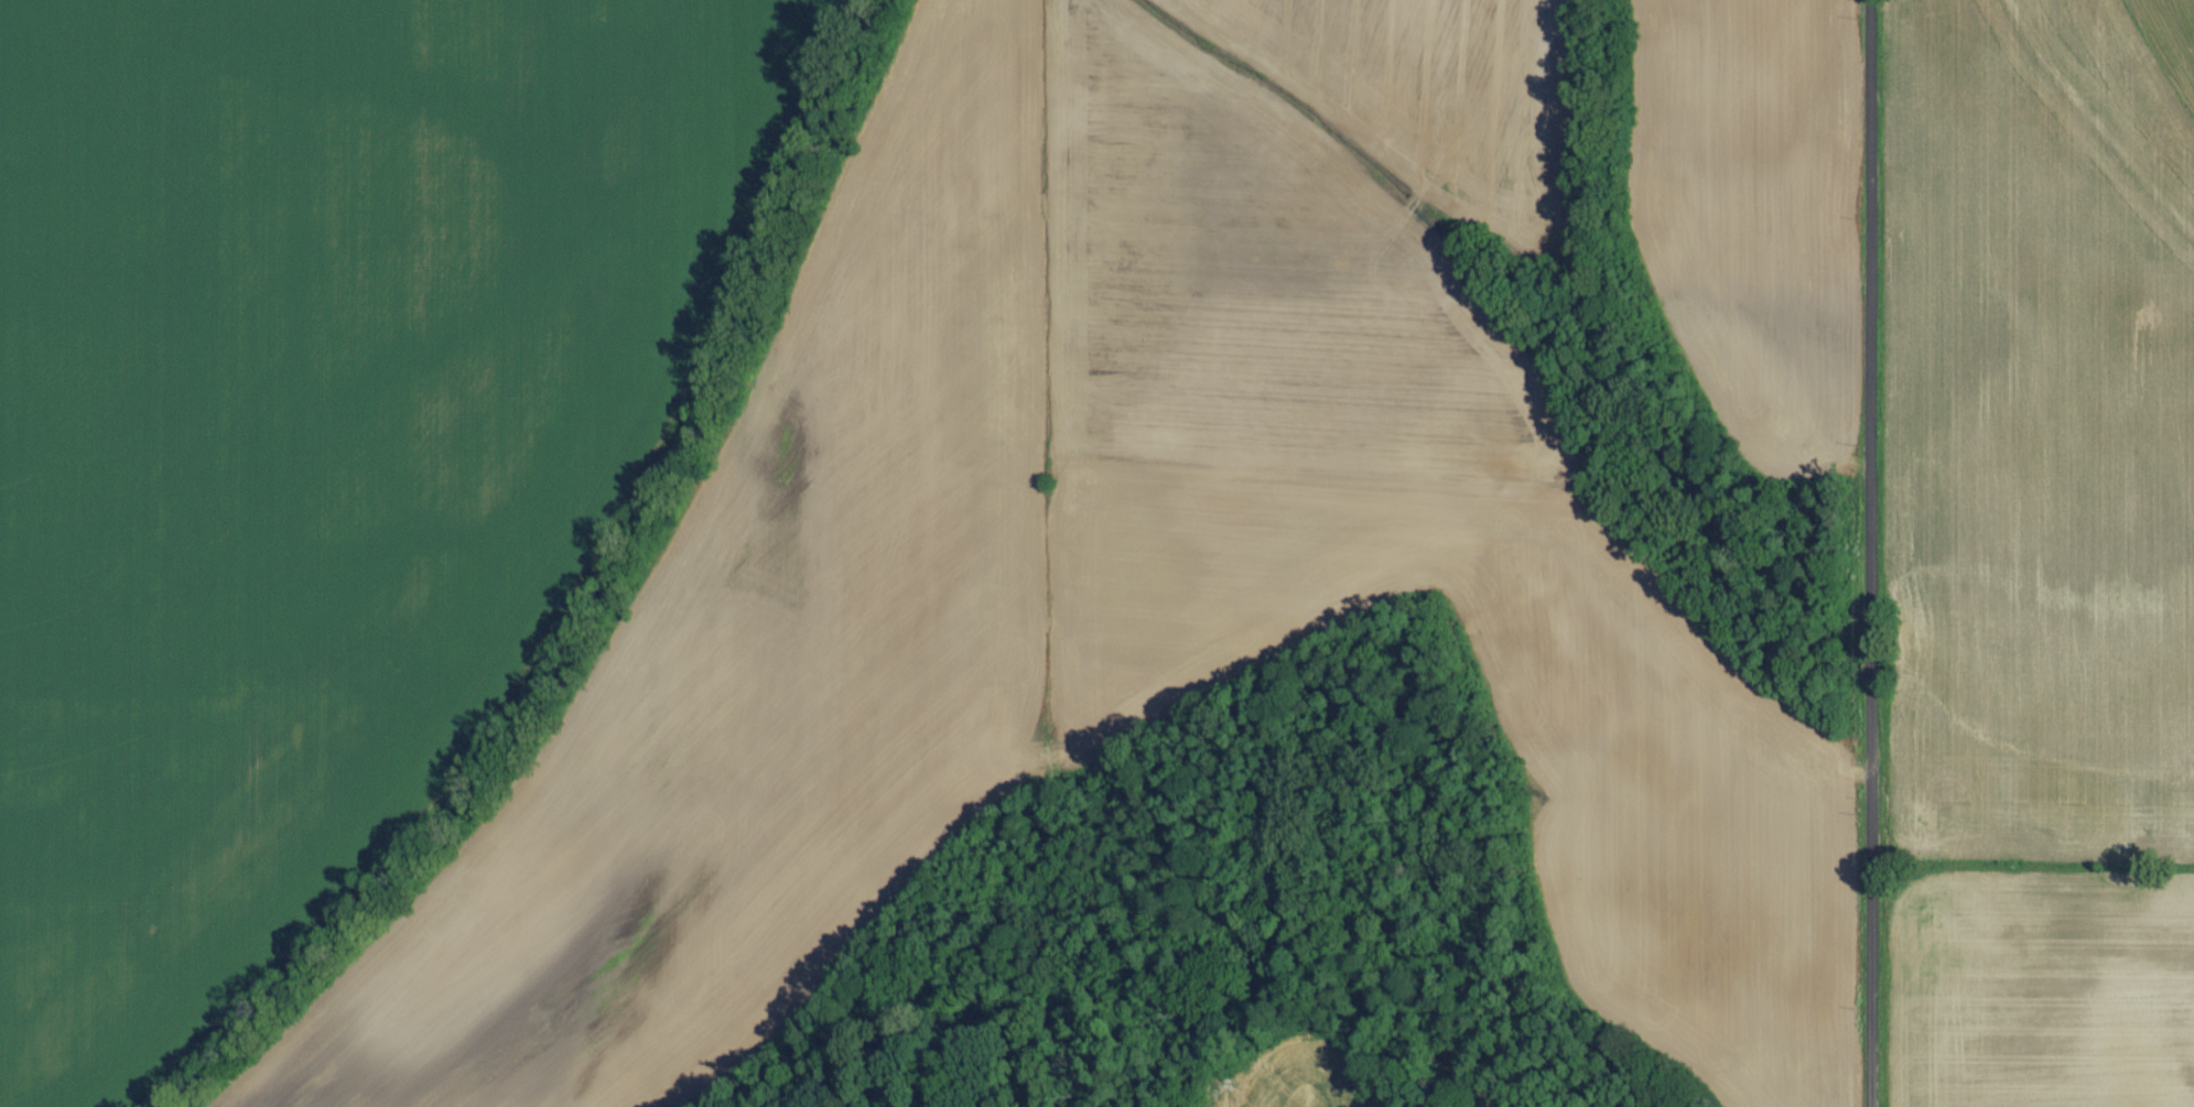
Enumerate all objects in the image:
road: (1872, 553)

